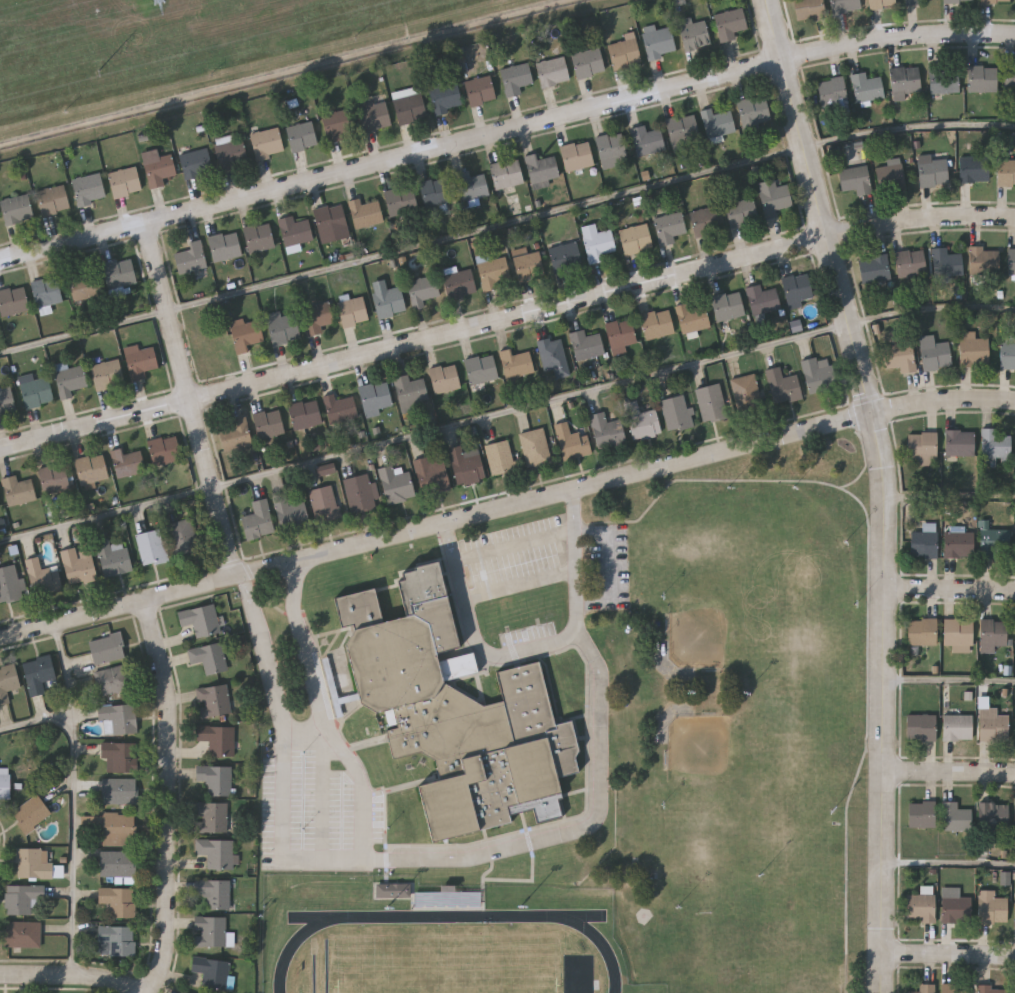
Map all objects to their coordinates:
building: (958, 0)
building: (995, 1)
building: (912, 2)
building: (881, 3)
building: (845, 5)
building: (809, 9)
building: (731, 24)
building: (695, 34)
building: (659, 42)
building: (625, 53)
building: (588, 63)
building: (554, 72)
building: (1010, 78)
building: (516, 79)
building: (983, 79)
building: (945, 80)
building: (905, 82)
building: (867, 87)
building: (480, 91)
building: (833, 92)
building: (448, 98)
building: (410, 109)
building: (754, 111)
building: (374, 114)
building: (718, 123)
building: (338, 125)
road: (504, 132)
building: (684, 132)
building: (302, 137)
building: (648, 141)
building: (268, 144)
building: (612, 146)
building: (232, 155)
building: (578, 156)
building: (196, 162)
building: (974, 169)
building: (542, 170)
building: (934, 170)
building: (161, 171)
building: (1006, 172)
building: (507, 174)
building: (892, 176)
building: (856, 178)
building: (125, 182)
building: (471, 186)
building: (89, 189)
building: (436, 192)
building: (775, 197)
building: (53, 200)
building: (401, 200)
road: (590, 201)
building: (18, 209)
building: (742, 212)
building: (366, 214)
building: (331, 219)
building: (706, 222)
building: (670, 228)
building: (295, 231)
building: (260, 237)
building: (637, 239)
building: (599, 244)
building: (225, 246)
building: (566, 257)
building: (192, 258)
building: (984, 261)
building: (947, 262)
building: (1011, 262)
building: (912, 263)
building: (528, 265)
building: (875, 268)
building: (120, 273)
building: (494, 273)
building: (85, 284)
building: (460, 284)
building: (798, 288)
building: (423, 291)
building: (47, 292)
building: (763, 300)
building: (13, 301)
building: (390, 302)
building: (729, 306)
road: (932, 307)
building: (354, 312)
building: (694, 317)
building: (319, 318)
road: (505, 319)
building: (657, 325)
building: (283, 328)
road: (85, 331)
building: (621, 334)
building: (247, 336)
building: (588, 346)
building: (213, 348)
building: (974, 349)
building: (934, 353)
building: (901, 354)
building: (1007, 355)
building: (554, 357)
building: (142, 362)
building: (516, 364)
building: (482, 369)
building: (108, 375)
building: (819, 375)
building: (445, 379)
building: (72, 383)
building: (784, 387)
building: (36, 391)
building: (410, 392)
building: (747, 394)
building: (376, 397)
road: (193, 400)
road: (856, 400)
building: (7, 402)
building: (712, 404)
road: (535, 405)
building: (341, 409)
building: (678, 413)
building: (306, 414)
building: (269, 424)
building: (644, 424)
building: (607, 431)
building: (237, 435)
building: (960, 442)
building: (572, 443)
building: (995, 443)
building: (922, 445)
building: (536, 448)
building: (166, 450)
building: (501, 458)
road: (867, 462)
building: (129, 463)
building: (467, 467)
building: (92, 469)
building: (327, 470)
building: (432, 475)
road: (628, 476)
building: (55, 479)
building: (396, 485)
road: (886, 489)
building: (18, 491)
building: (363, 494)
road: (951, 496)
building: (0, 504)
building: (325, 504)
building: (291, 511)
road: (109, 513)
building: (259, 520)
building: (185, 537)
building: (959, 543)
building: (995, 543)
road: (517, 544)
building: (924, 544)
building: (152, 548)
building: (114, 558)
building: (78, 566)
building: (44, 577)
park: (758, 582)
building: (11, 585)
road: (523, 586)
road: (951, 589)
road: (869, 592)
road: (122, 605)
building: (201, 620)
building: (922, 631)
building: (958, 634)
building: (993, 634)
building: (108, 648)
road: (265, 649)
road: (536, 650)
building: (210, 658)
building: (38, 674)
road: (951, 679)
building: (113, 681)
building: (8, 683)
building: (214, 700)
road: (72, 701)
road: (331, 711)
building: (456, 713)
building: (119, 719)
park: (740, 719)
building: (993, 724)
building: (958, 726)
building: (921, 727)
building: (219, 739)
road: (311, 740)
building: (120, 757)
road: (951, 772)
building: (217, 780)
building: (5, 783)
building: (120, 791)
park: (748, 793)
road: (171, 795)
road: (326, 798)
building: (32, 813)
building: (922, 813)
building: (955, 816)
building: (212, 817)
building: (994, 821)
building: (116, 828)
road: (73, 838)
building: (218, 853)
road: (479, 855)
road: (950, 862)
building: (35, 863)
building: (118, 863)
building: (392, 890)
building: (215, 893)
building: (446, 898)
building: (22, 899)
building: (119, 901)
building: (920, 907)
building: (992, 908)
building: (956, 909)
building: (210, 932)
building: (24, 934)
building: (116, 941)
road: (950, 955)
building: (213, 973)
road: (899, 974)
road: (74, 977)
building: (924, 989)
building: (955, 989)
building: (992, 990)
building: (183, 992)

